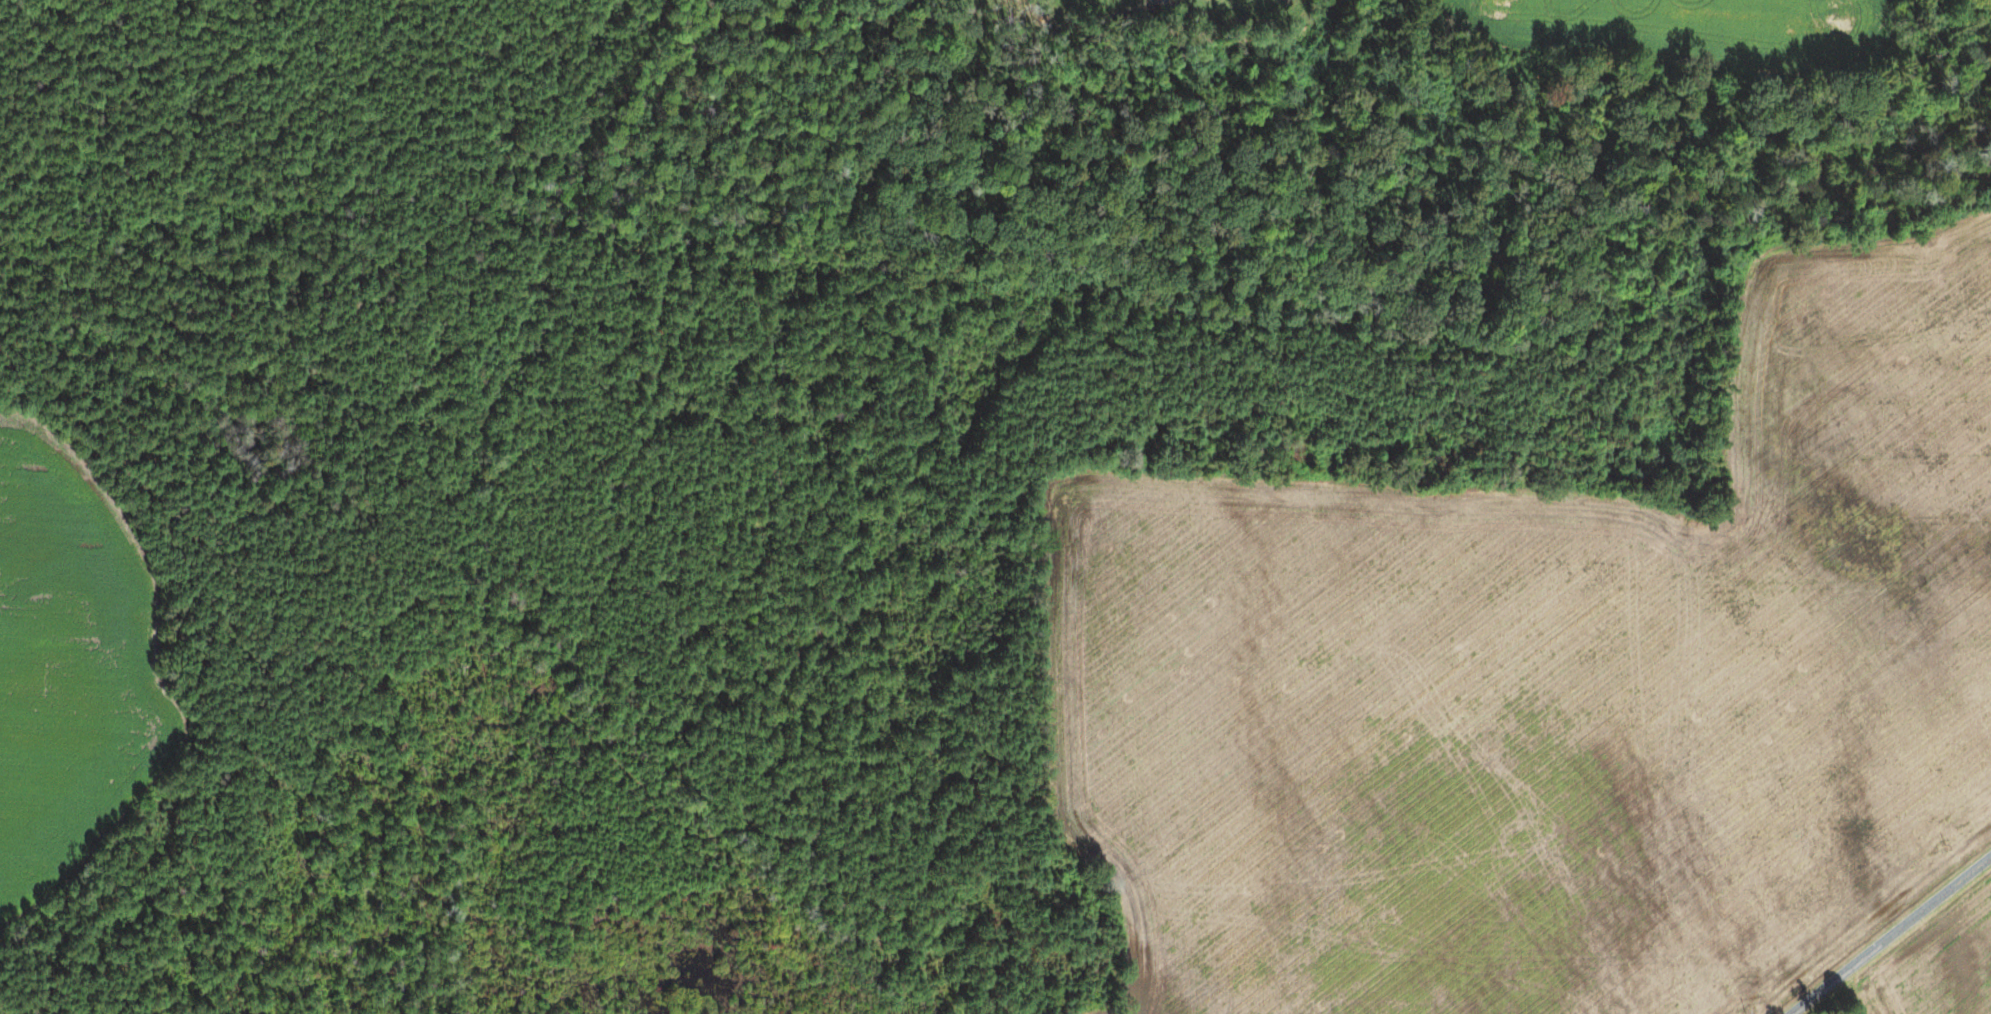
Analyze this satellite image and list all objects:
road: (1890, 934)

